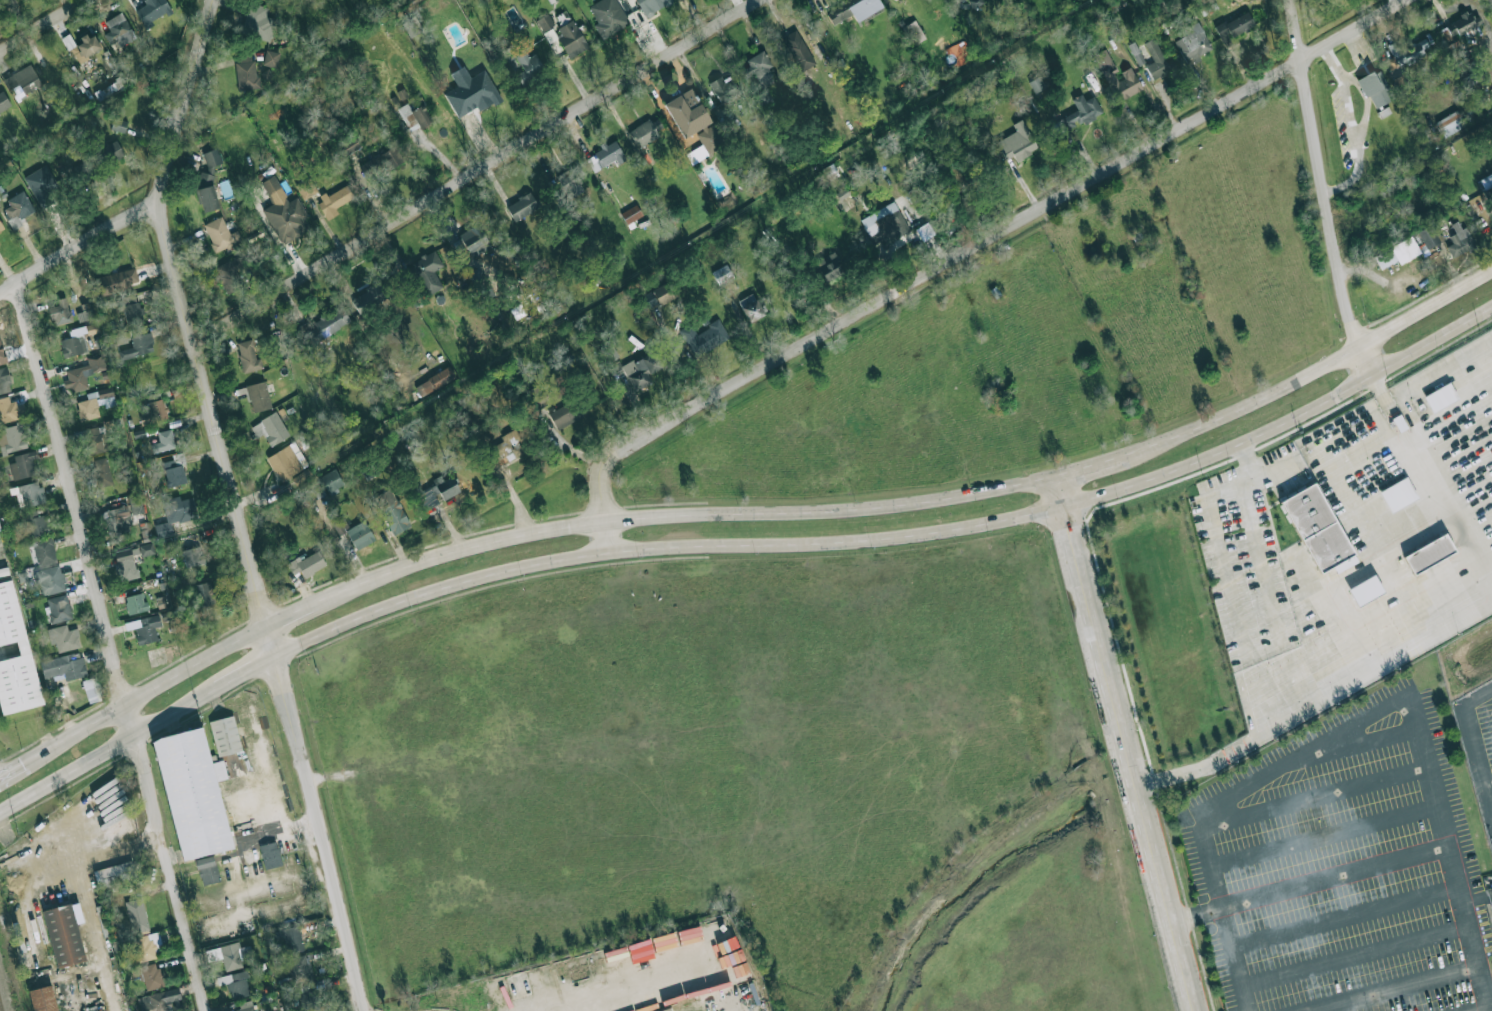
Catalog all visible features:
building: (958, 0)
building: (975, 2)
building: (652, 5)
building: (152, 10)
building: (853, 10)
building: (607, 16)
road: (37, 22)
building: (258, 22)
building: (544, 22)
building: (1461, 25)
building: (411, 26)
building: (1234, 26)
building: (118, 30)
building: (913, 32)
building: (549, 35)
building: (571, 38)
building: (1192, 42)
building: (85, 48)
building: (798, 50)
building: (1405, 52)
building: (1136, 53)
building: (271, 58)
building: (1155, 60)
road: (1332, 61)
building: (1105, 64)
building: (527, 65)
building: (759, 68)
building: (246, 73)
building: (22, 82)
building: (1402, 82)
building: (1036, 83)
building: (1127, 83)
building: (724, 88)
building: (1376, 88)
building: (471, 91)
building: (3, 100)
road: (179, 101)
building: (1081, 111)
building: (687, 112)
road: (1366, 112)
road: (1350, 118)
building: (1450, 123)
building: (118, 124)
building: (643, 133)
building: (706, 143)
building: (350, 145)
building: (112, 151)
building: (606, 156)
road: (1316, 160)
building: (380, 163)
building: (209, 167)
road: (467, 170)
building: (1486, 180)
building: (571, 181)
road: (1347, 182)
building: (42, 185)
building: (207, 198)
building: (334, 201)
building: (18, 206)
building: (522, 206)
building: (631, 214)
building: (884, 224)
road: (1010, 226)
building: (1, 227)
building: (221, 234)
building: (1428, 236)
building: (475, 240)
building: (1459, 240)
road: (76, 248)
building: (1396, 253)
building: (829, 266)
building: (427, 271)
building: (723, 275)
building: (228, 276)
building: (115, 282)
building: (663, 293)
building: (368, 297)
building: (647, 301)
building: (750, 307)
building: (131, 310)
building: (60, 312)
building: (330, 322)
building: (92, 328)
building: (704, 337)
building: (138, 343)
building: (73, 345)
road: (1359, 348)
building: (248, 356)
building: (641, 370)
building: (84, 372)
road: (1310, 373)
building: (3, 379)
building: (434, 381)
building: (258, 396)
road: (200, 397)
building: (1440, 397)
building: (94, 403)
building: (10, 409)
building: (154, 411)
building: (565, 415)
building: (270, 429)
building: (12, 438)
building: (94, 440)
building: (163, 441)
building: (507, 447)
building: (287, 461)
building: (22, 465)
road: (1088, 467)
building: (175, 469)
road: (1269, 469)
building: (101, 472)
road: (65, 477)
building: (326, 483)
road: (1430, 483)
building: (438, 491)
building: (27, 493)
building: (1398, 494)
road: (602, 499)
building: (391, 511)
building: (175, 514)
building: (116, 521)
building: (36, 525)
building: (1318, 529)
building: (0, 530)
building: (355, 533)
road: (897, 535)
road: (517, 537)
road: (1223, 538)
building: (146, 549)
building: (42, 551)
building: (1428, 553)
building: (192, 556)
building: (126, 563)
building: (306, 563)
building: (50, 580)
road: (1264, 581)
building: (1366, 590)
building: (202, 594)
building: (136, 603)
building: (59, 608)
road: (260, 608)
building: (146, 629)
building: (64, 638)
building: (15, 659)
road: (274, 659)
building: (64, 667)
road: (246, 672)
building: (92, 690)
road: (1316, 702)
road: (127, 711)
building: (224, 735)
road: (1374, 741)
road: (1123, 744)
road: (108, 746)
road: (1478, 746)
road: (1314, 750)
road: (13, 768)
building: (190, 793)
road: (1321, 795)
road: (1323, 835)
road: (322, 851)
building: (270, 855)
building: (207, 870)
road: (1335, 874)
building: (114, 875)
road: (172, 882)
road: (1195, 912)
building: (136, 915)
road: (1348, 918)
building: (62, 936)
building: (290, 940)
building: (151, 944)
road: (1359, 954)
building: (235, 956)
building: (300, 969)
building: (151, 976)
road: (1439, 980)
road: (651, 981)
building: (236, 984)
road: (1488, 986)
building: (40, 999)
building: (161, 1001)
building: (308, 1001)
building: (246, 1006)
railway: (0, 1007)
road: (1478, 1007)
road: (707, 1010)

